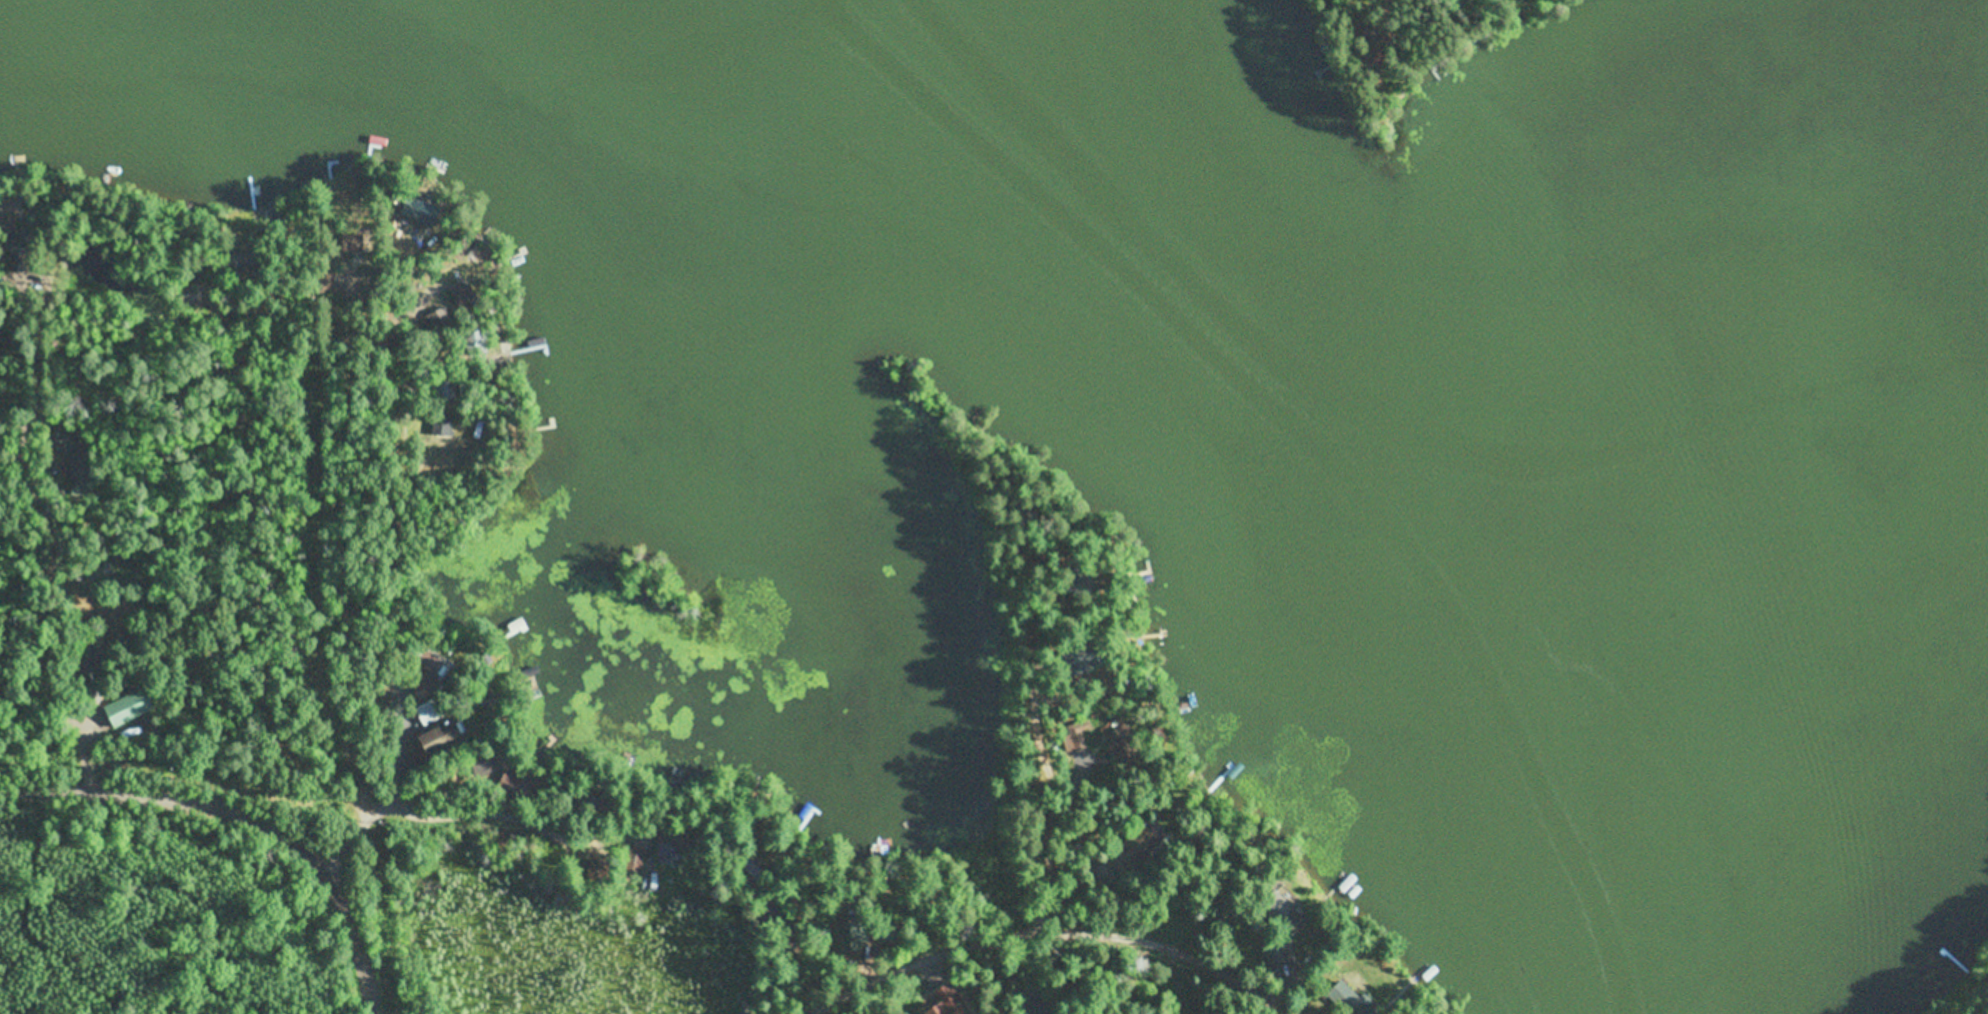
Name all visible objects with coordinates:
building: (1362, 38)
building: (1375, 41)
building: (419, 211)
building: (403, 212)
building: (277, 213)
building: (356, 244)
building: (18, 248)
building: (242, 261)
building: (324, 278)
building: (189, 294)
building: (444, 295)
building: (465, 298)
building: (439, 320)
building: (254, 339)
building: (475, 342)
building: (443, 392)
building: (443, 426)
building: (478, 429)
building: (77, 463)
river: (1427, 481)
road: (28, 548)
building: (1078, 575)
road: (275, 576)
road: (405, 577)
road: (360, 580)
building: (514, 630)
building: (1091, 652)
building: (94, 662)
building: (430, 662)
building: (1071, 662)
building: (526, 675)
building: (422, 688)
building: (95, 694)
building: (129, 708)
building: (430, 712)
building: (1082, 726)
building: (1072, 737)
building: (442, 739)
building: (1126, 750)
road: (1073, 751)
building: (482, 763)
building: (519, 786)
building: (594, 797)
road: (248, 810)
building: (805, 810)
road: (559, 824)
road: (349, 830)
building: (505, 834)
building: (670, 845)
building: (1133, 851)
building: (630, 859)
building: (742, 870)
building: (1281, 914)
building: (890, 928)
road: (1050, 933)
building: (851, 939)
building: (1274, 955)
building: (1354, 999)
building: (948, 1001)

